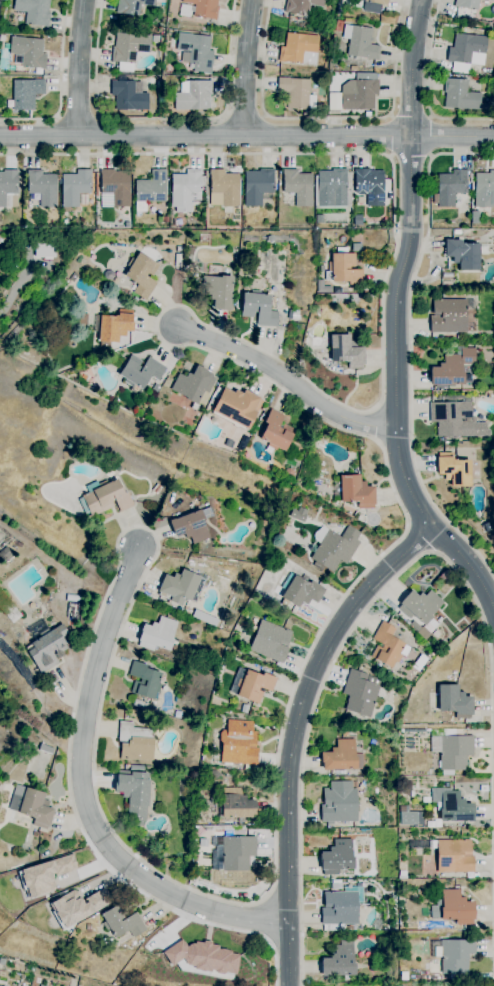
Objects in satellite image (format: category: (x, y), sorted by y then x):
building: (333, 0)
building: (490, 0)
building: (467, 4)
building: (373, 5)
building: (132, 6)
building: (301, 6)
building: (200, 9)
building: (33, 11)
building: (339, 26)
building: (2, 38)
building: (155, 39)
building: (360, 42)
building: (129, 47)
building: (299, 49)
building: (466, 51)
building: (28, 52)
building: (195, 52)
road: (80, 68)
road: (247, 68)
building: (353, 68)
building: (151, 81)
road: (61, 87)
road: (428, 88)
building: (490, 89)
building: (26, 93)
building: (296, 93)
building: (129, 95)
building: (193, 96)
building: (360, 96)
building: (461, 96)
road: (244, 115)
road: (411, 115)
road: (77, 116)
road: (161, 117)
road: (327, 118)
road: (247, 136)
road: (391, 136)
road: (431, 136)
road: (411, 157)
building: (257, 186)
building: (370, 186)
building: (43, 187)
building: (75, 187)
building: (298, 187)
building: (450, 187)
building: (8, 188)
building: (114, 189)
building: (224, 189)
building: (333, 189)
building: (151, 190)
building: (186, 190)
building: (484, 190)
building: (319, 219)
building: (165, 220)
building: (358, 220)
building: (456, 232)
building: (290, 237)
building: (356, 248)
building: (43, 250)
building: (190, 251)
building: (463, 254)
building: (188, 269)
building: (321, 269)
building: (343, 270)
building: (142, 275)
building: (247, 282)
building: (446, 284)
road: (16, 287)
building: (322, 287)
building: (218, 291)
building: (259, 309)
building: (294, 315)
building: (448, 316)
road: (395, 318)
building: (245, 320)
building: (114, 326)
building: (103, 346)
road: (411, 347)
building: (346, 351)
building: (452, 369)
building: (140, 372)
road: (286, 378)
building: (193, 385)
building: (156, 387)
building: (237, 408)
building: (455, 418)
building: (276, 432)
building: (454, 470)
building: (288, 473)
building: (157, 489)
building: (356, 492)
building: (104, 498)
building: (299, 515)
building: (484, 524)
building: (192, 525)
building: (334, 548)
road: (454, 549)
building: (5, 553)
road: (419, 556)
building: (180, 587)
building: (300, 590)
building: (72, 598)
building: (420, 607)
building: (8, 609)
building: (72, 610)
road: (324, 624)
building: (414, 627)
road: (490, 631)
building: (158, 635)
building: (270, 641)
building: (387, 645)
building: (46, 649)
road: (492, 679)
building: (144, 681)
building: (251, 685)
building: (361, 693)
building: (454, 701)
building: (244, 709)
road: (294, 733)
building: (345, 733)
building: (135, 742)
building: (239, 744)
building: (373, 744)
building: (46, 749)
building: (453, 751)
building: (342, 757)
building: (134, 794)
road: (84, 796)
building: (339, 803)
building: (237, 805)
building: (32, 806)
building: (452, 806)
building: (409, 818)
building: (434, 822)
building: (238, 852)
building: (453, 856)
building: (337, 857)
road: (493, 859)
building: (44, 875)
building: (334, 886)
road: (493, 894)
building: (76, 906)
building: (341, 906)
building: (456, 908)
building: (122, 922)
building: (382, 949)
building: (455, 956)
building: (201, 957)
building: (2, 961)
building: (339, 962)
building: (403, 976)
building: (1, 985)
building: (23, 985)

